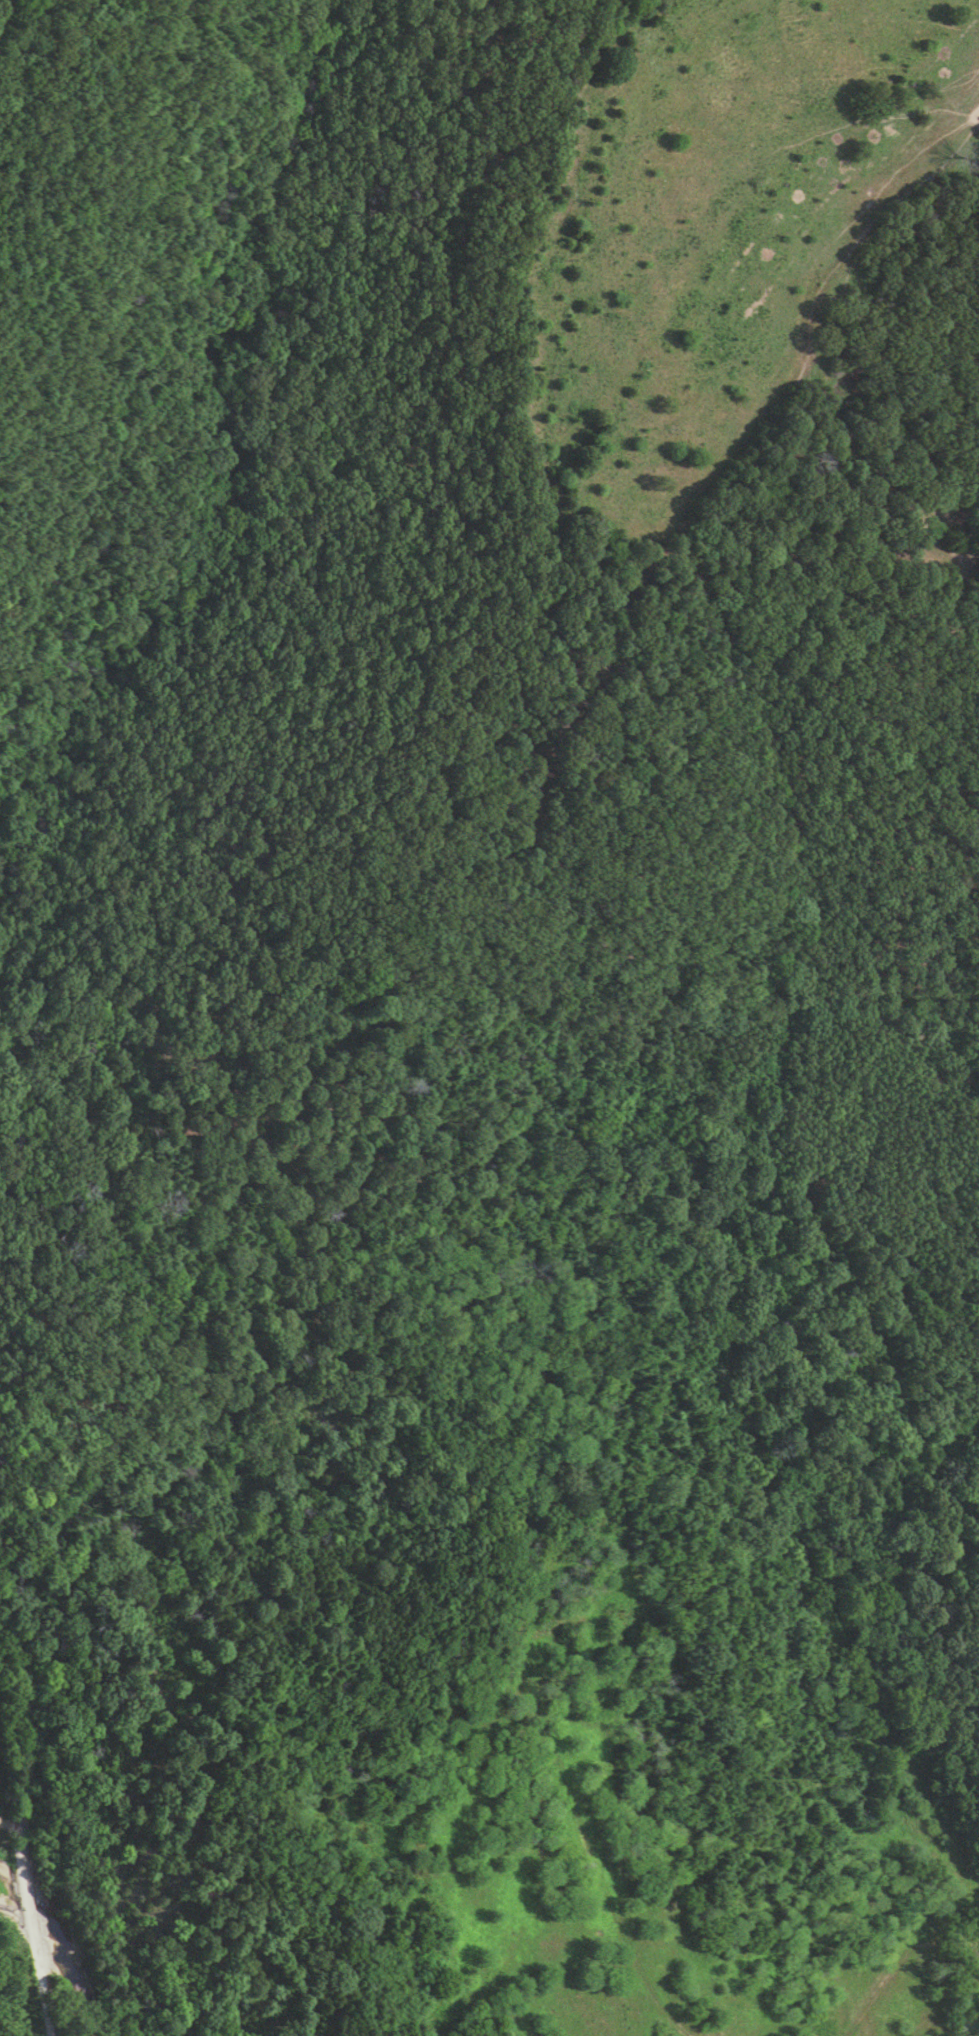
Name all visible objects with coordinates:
road: (26, 1862)

